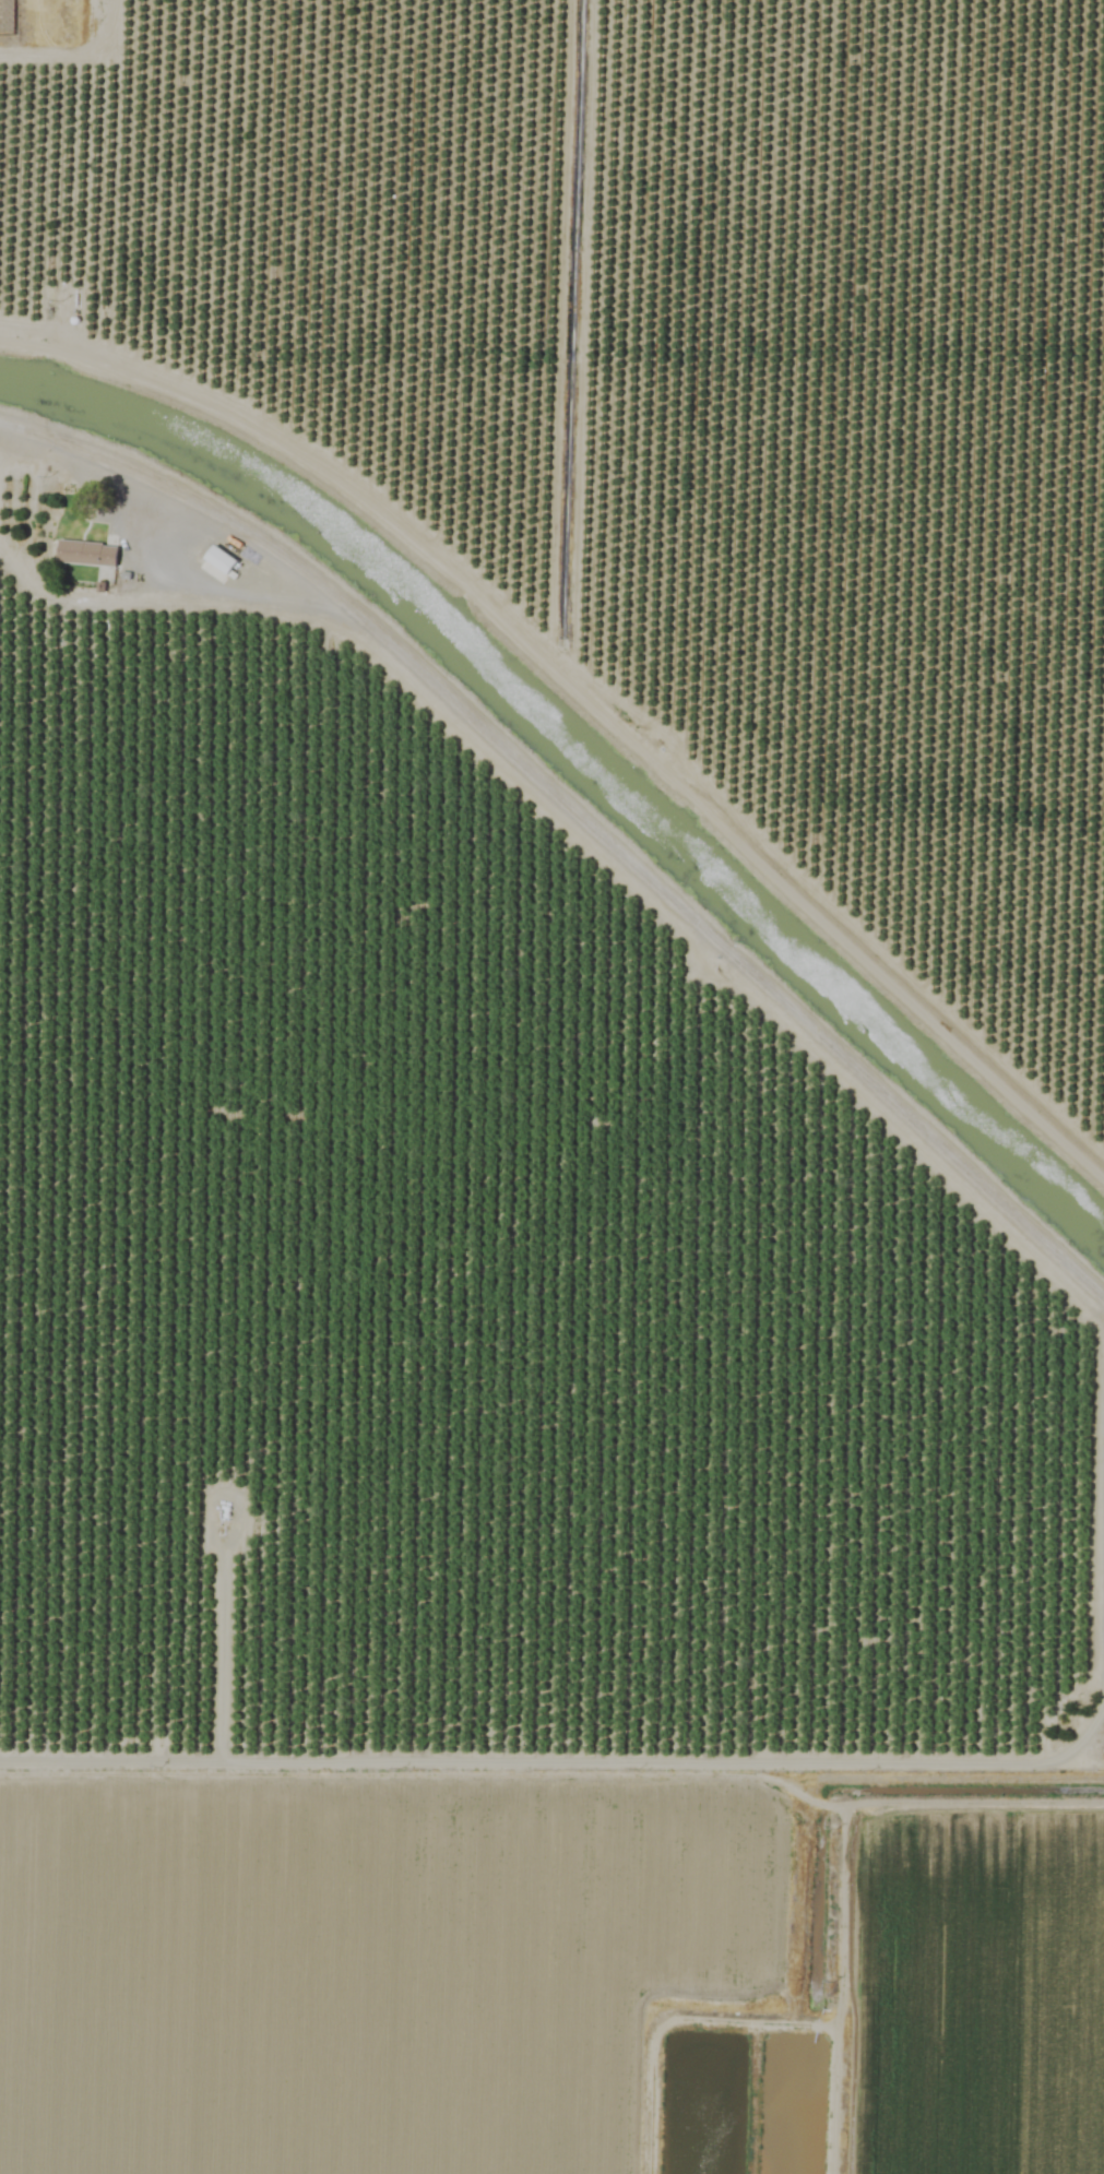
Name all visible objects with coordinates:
building: (85, 554)
building: (219, 561)
road: (580, 811)
crop: (551, 1086)

